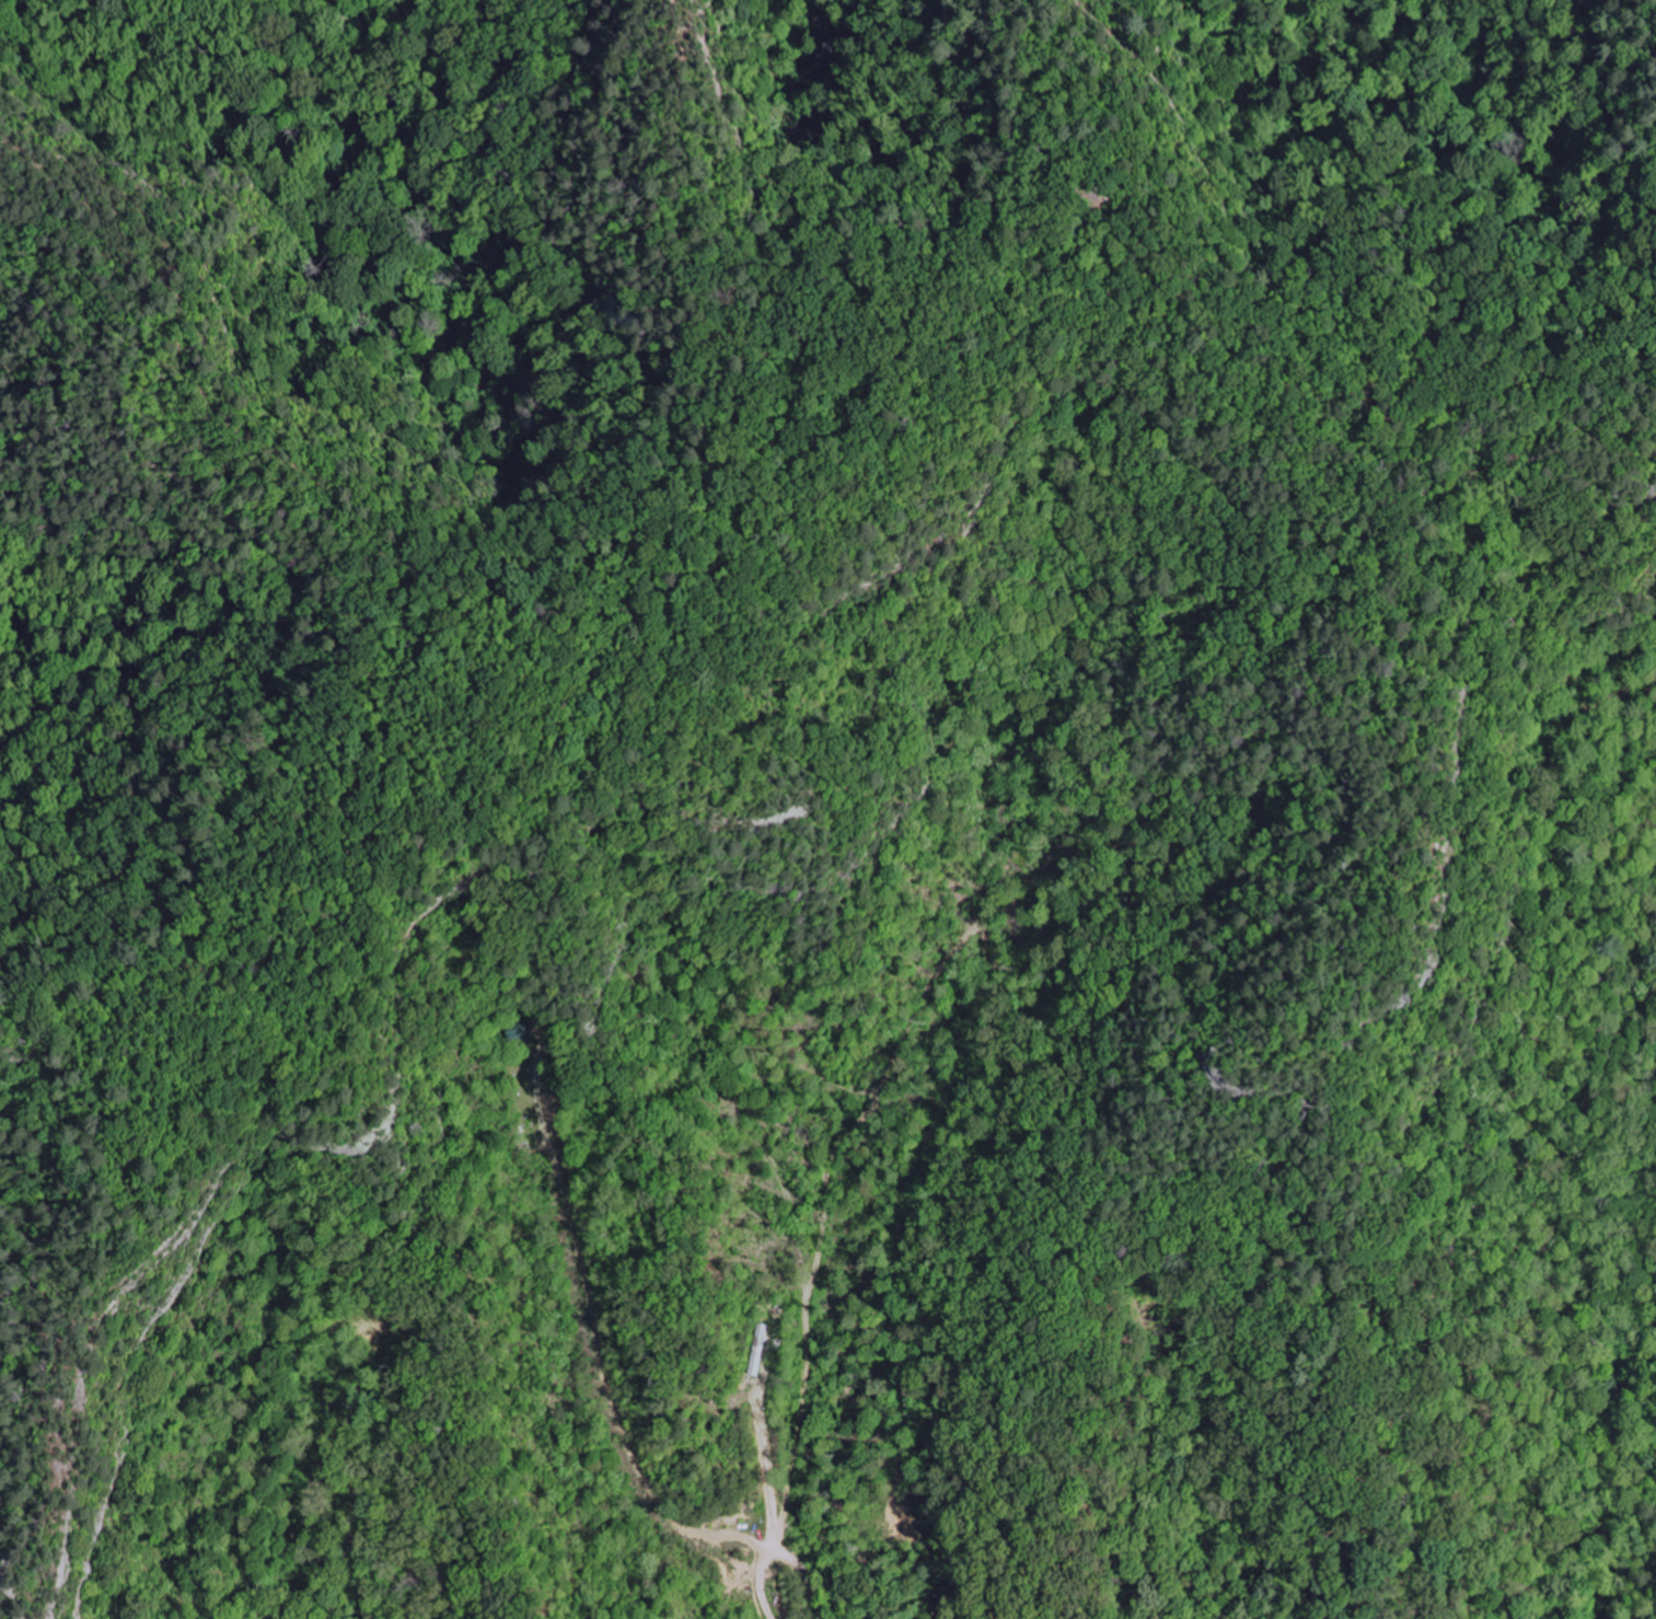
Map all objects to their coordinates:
road: (618, 150)
road: (1080, 187)
road: (653, 188)
road: (940, 358)
road: (322, 483)
road: (1403, 776)
road: (183, 1036)
road: (784, 1557)

